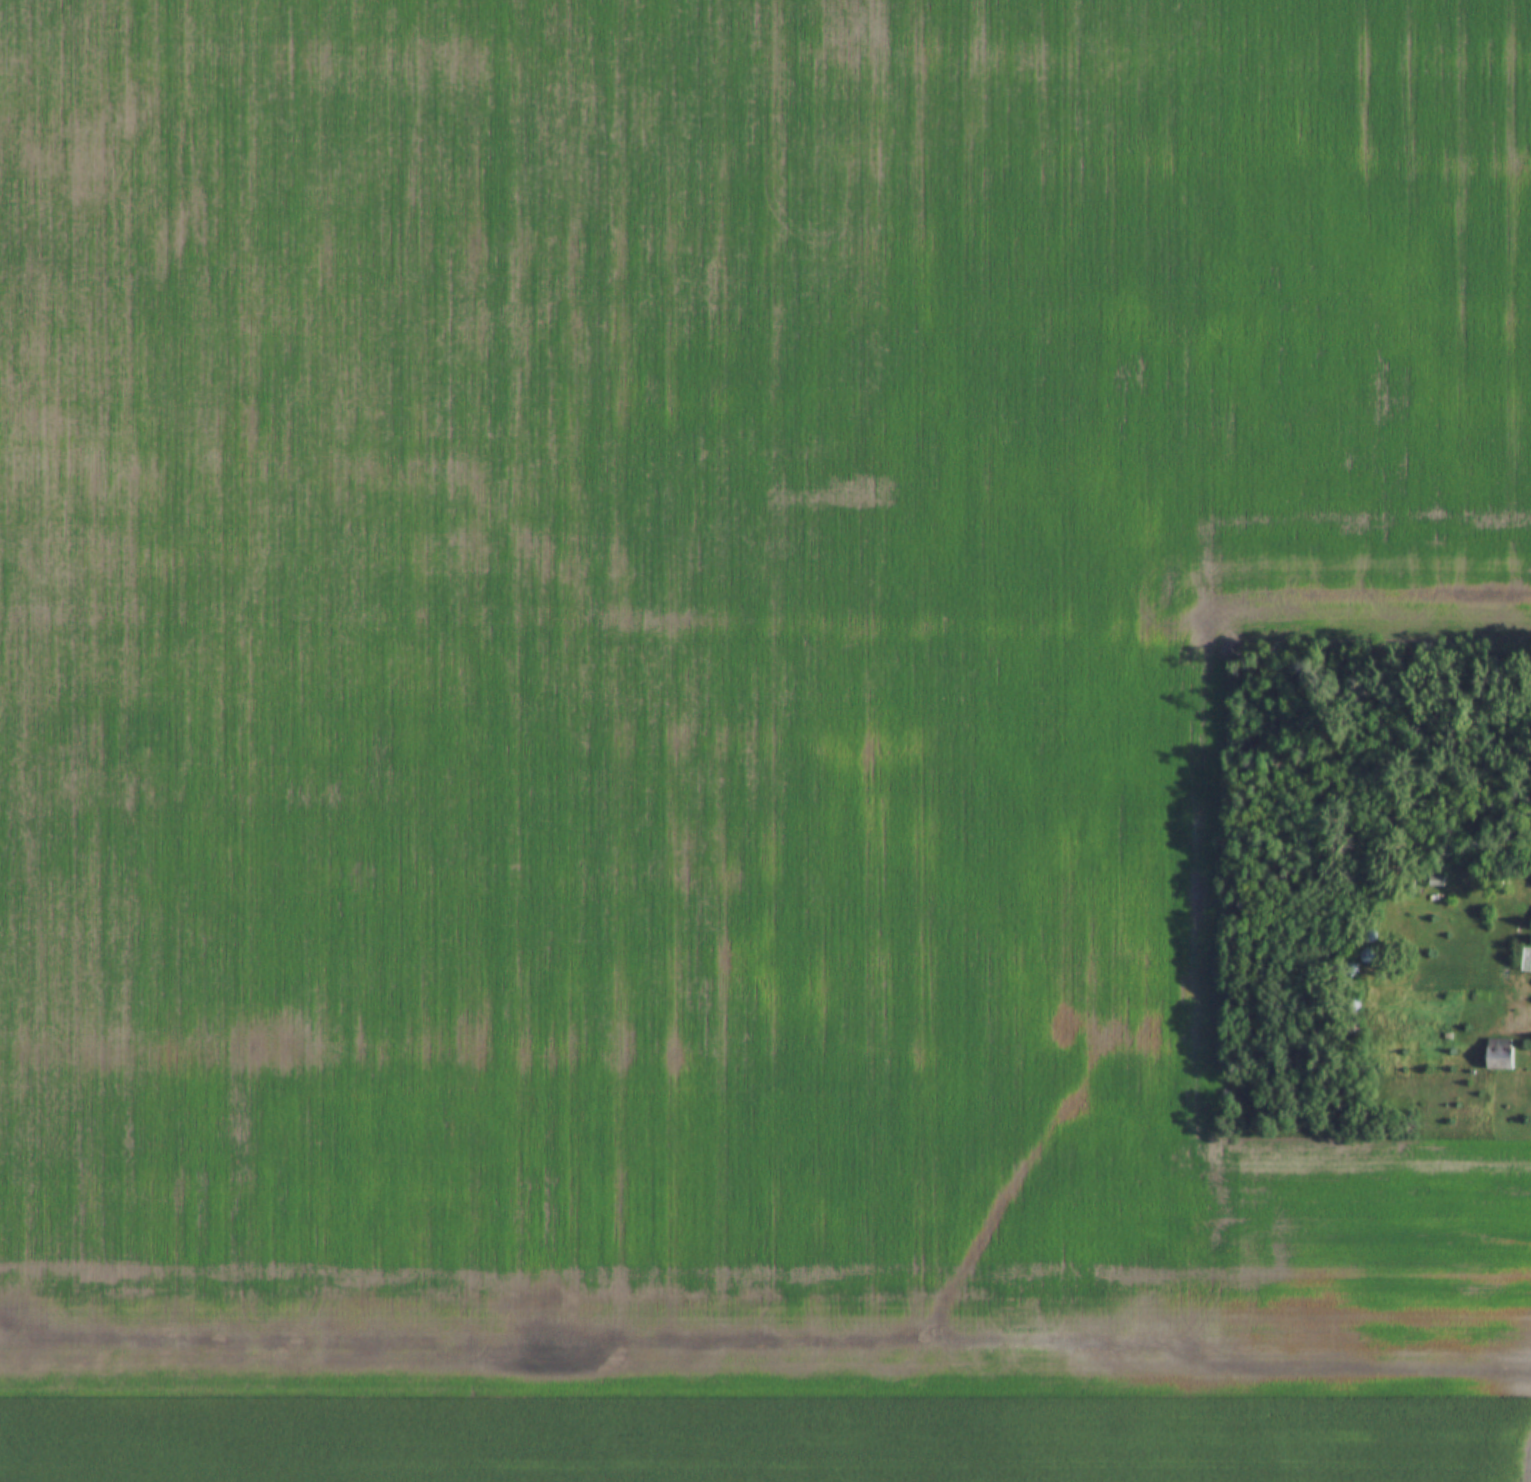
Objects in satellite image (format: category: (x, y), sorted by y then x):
building: (1499, 1054)

